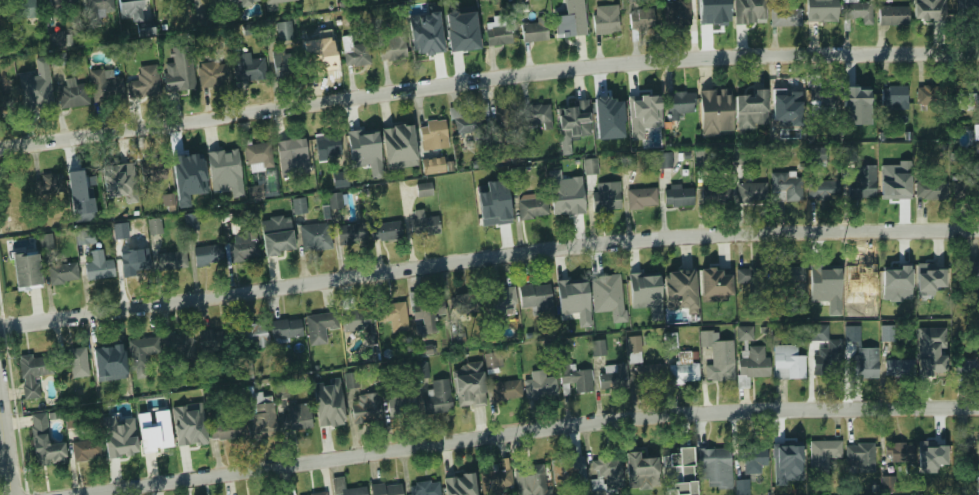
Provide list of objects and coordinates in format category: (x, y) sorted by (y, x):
building: (132, 2)
building: (241, 3)
building: (273, 3)
building: (968, 4)
building: (60, 6)
building: (21, 7)
building: (99, 10)
building: (927, 10)
building: (857, 12)
building: (676, 13)
building: (746, 13)
building: (821, 14)
building: (892, 14)
building: (712, 15)
building: (786, 17)
building: (639, 18)
building: (605, 20)
building: (569, 27)
building: (463, 31)
building: (283, 32)
building: (534, 33)
building: (426, 34)
building: (481, 37)
building: (57, 39)
building: (393, 48)
building: (352, 53)
building: (59, 59)
building: (321, 59)
building: (283, 63)
building: (248, 69)
building: (212, 73)
road: (487, 77)
building: (177, 79)
building: (144, 82)
building: (105, 85)
building: (31, 93)
building: (73, 95)
building: (789, 95)
building: (928, 95)
building: (893, 96)
building: (857, 97)
building: (749, 98)
building: (820, 98)
building: (968, 101)
building: (681, 102)
building: (641, 104)
building: (1, 106)
building: (573, 112)
building: (713, 112)
building: (536, 115)
building: (609, 118)
building: (502, 121)
building: (464, 123)
building: (433, 135)
building: (398, 139)
building: (977, 141)
building: (362, 142)
building: (326, 146)
building: (292, 150)
building: (739, 156)
building: (257, 157)
building: (817, 158)
building: (221, 159)
building: (664, 159)
building: (434, 165)
building: (589, 166)
building: (188, 168)
building: (153, 170)
building: (118, 176)
building: (340, 179)
building: (82, 180)
building: (478, 180)
building: (861, 182)
building: (47, 185)
building: (785, 186)
building: (960, 186)
building: (895, 188)
building: (424, 189)
building: (824, 189)
building: (930, 190)
building: (256, 192)
building: (751, 192)
building: (714, 195)
building: (606, 196)
building: (677, 196)
building: (10, 197)
building: (641, 198)
building: (168, 199)
building: (336, 200)
building: (568, 202)
building: (299, 205)
building: (531, 208)
building: (497, 214)
building: (457, 220)
building: (190, 222)
building: (422, 224)
building: (155, 226)
building: (119, 231)
building: (385, 232)
building: (351, 233)
building: (86, 236)
building: (314, 237)
building: (46, 241)
building: (278, 241)
building: (242, 247)
building: (207, 256)
road: (487, 258)
building: (171, 260)
building: (134, 261)
building: (98, 266)
building: (971, 266)
building: (897, 269)
building: (20, 270)
building: (931, 271)
building: (62, 273)
building: (859, 274)
building: (825, 276)
building: (790, 277)
building: (752, 278)
building: (714, 279)
building: (643, 282)
building: (673, 285)
building: (611, 290)
building: (535, 297)
building: (575, 300)
building: (501, 301)
building: (464, 303)
building: (424, 310)
building: (851, 310)
building: (393, 316)
building: (356, 320)
building: (319, 327)
building: (285, 329)
building: (818, 332)
building: (744, 333)
building: (852, 333)
building: (887, 333)
building: (253, 335)
building: (210, 340)
building: (179, 345)
building: (599, 347)
building: (634, 350)
building: (141, 352)
building: (108, 353)
building: (827, 356)
building: (493, 360)
building: (76, 362)
building: (787, 362)
building: (751, 364)
building: (455, 365)
building: (968, 366)
building: (930, 367)
building: (34, 368)
building: (827, 368)
building: (863, 369)
building: (246, 370)
building: (420, 370)
building: (893, 370)
building: (719, 372)
building: (682, 373)
building: (574, 377)
building: (615, 377)
building: (646, 377)
building: (352, 380)
building: (315, 384)
building: (539, 386)
building: (505, 390)
building: (472, 396)
building: (437, 398)
building: (399, 401)
building: (141, 409)
building: (365, 412)
building: (256, 413)
building: (331, 415)
building: (295, 417)
building: (70, 420)
building: (223, 427)
road: (530, 429)
building: (153, 435)
building: (119, 437)
building: (188, 437)
building: (964, 440)
road: (7, 441)
building: (44, 442)
building: (86, 450)
building: (931, 451)
building: (786, 452)
building: (899, 452)
building: (822, 454)
building: (860, 456)
building: (754, 457)
building: (714, 459)
building: (640, 462)
building: (681, 472)
building: (573, 473)
building: (606, 475)
building: (496, 478)
building: (530, 480)
building: (339, 482)
building: (888, 483)
building: (456, 485)
building: (977, 485)
building: (742, 487)
building: (422, 488)
building: (385, 489)
building: (321, 494)

